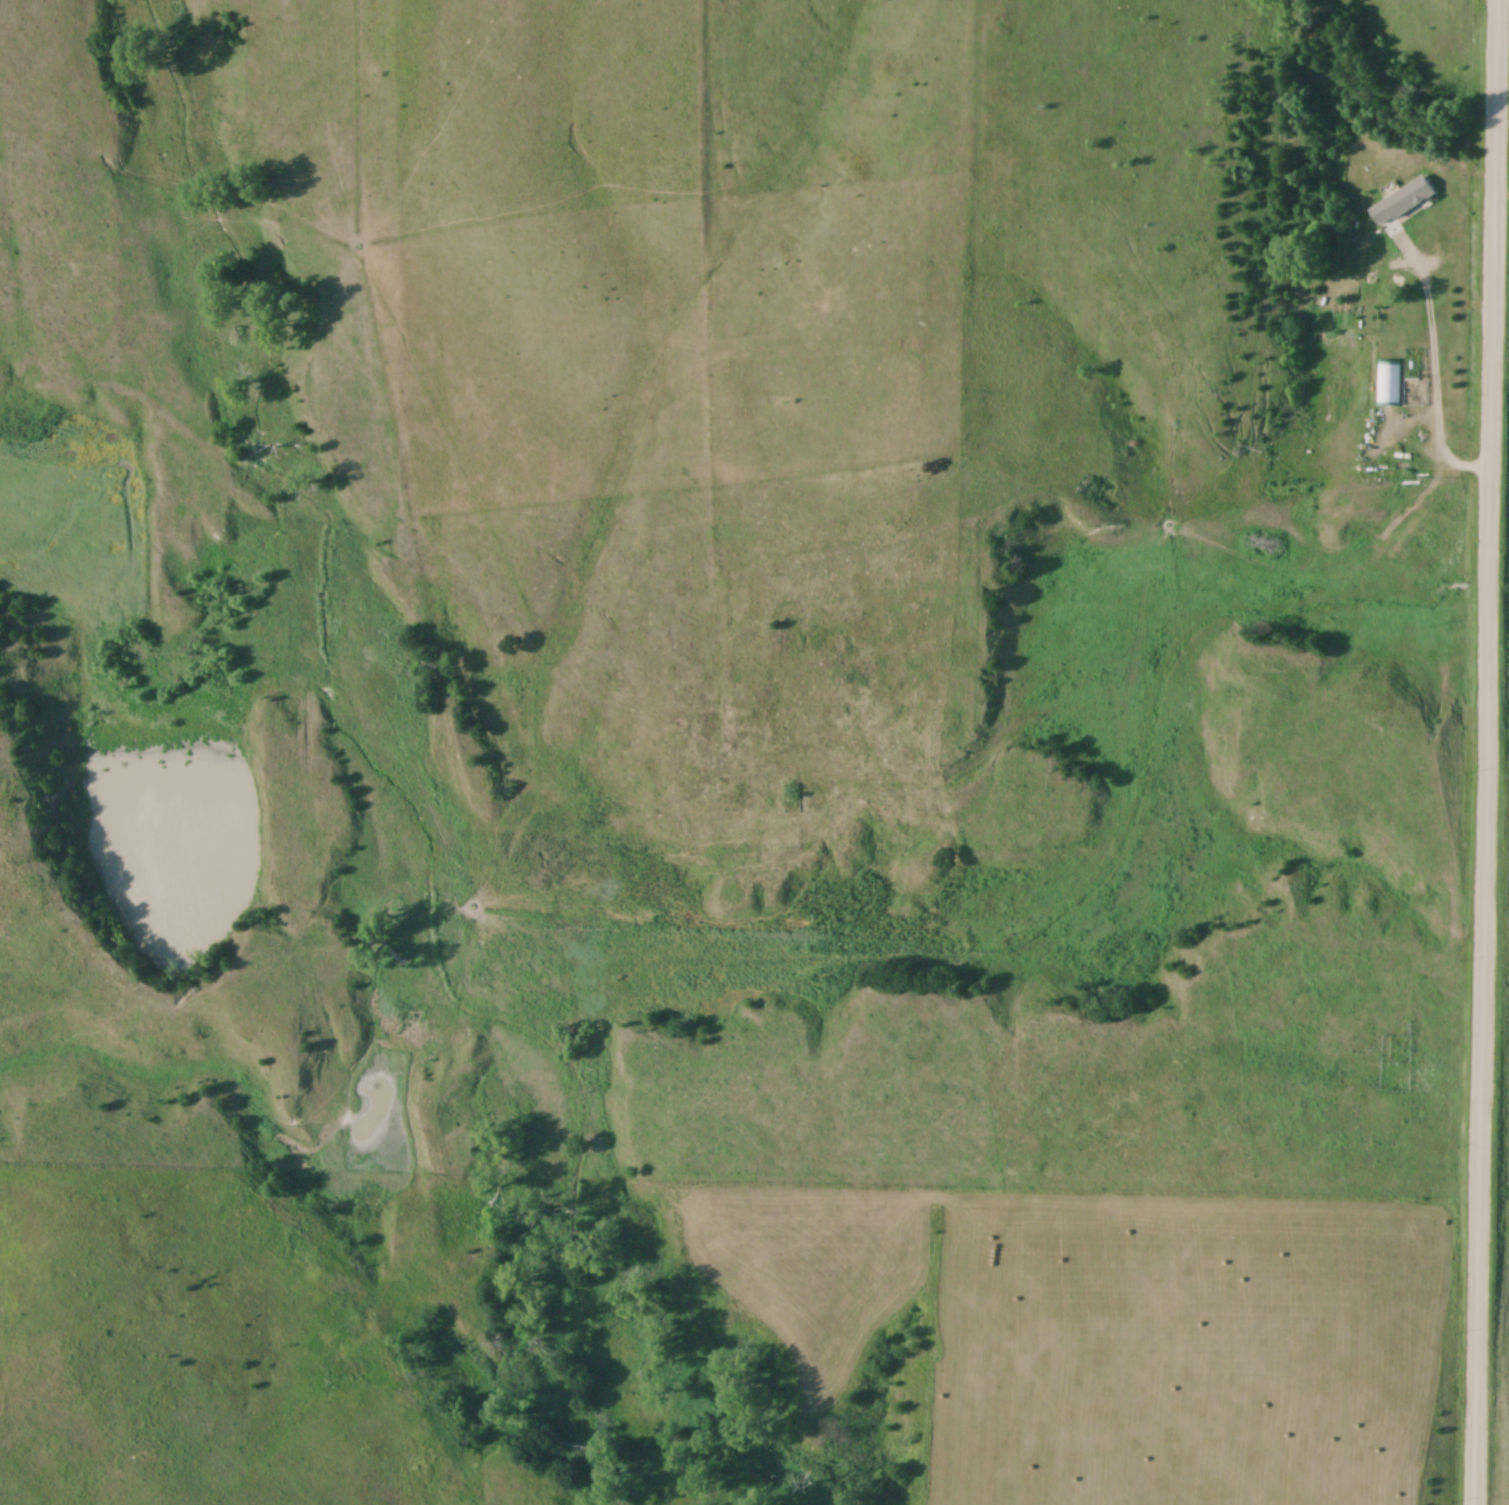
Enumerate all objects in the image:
building: (1407, 202)
road: (1438, 376)
building: (1390, 385)
road: (1488, 752)

